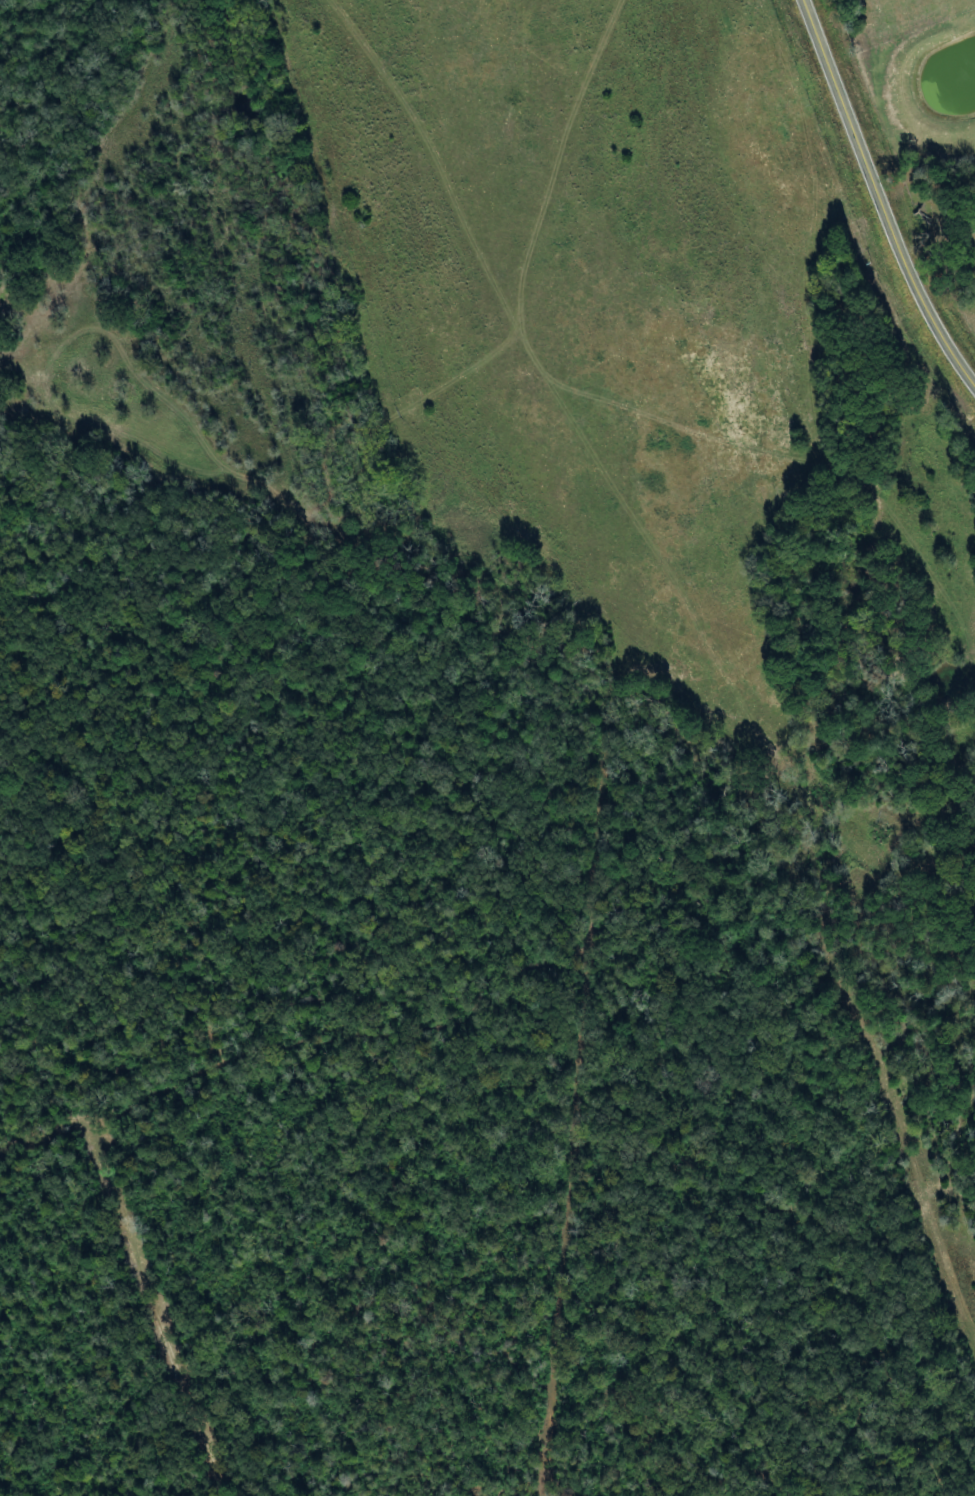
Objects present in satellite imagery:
road: (878, 196)

